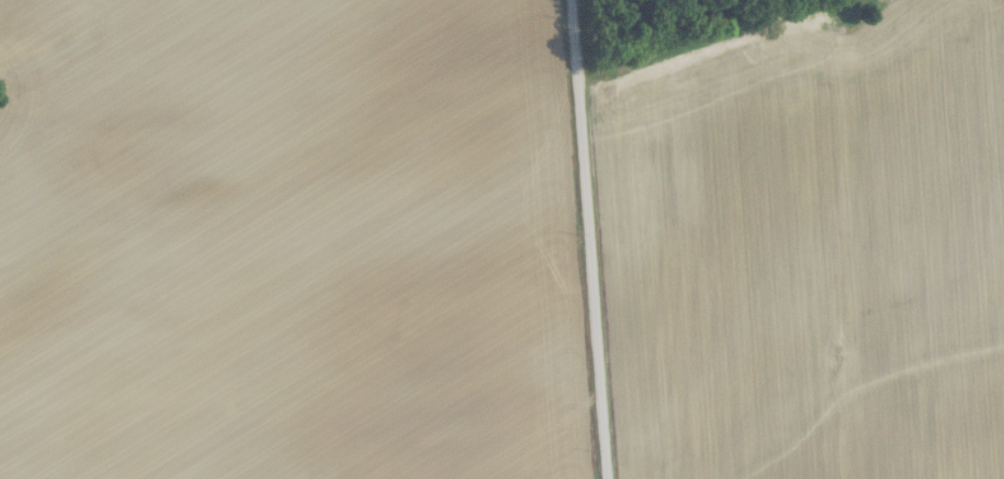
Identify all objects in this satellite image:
road: (593, 239)

